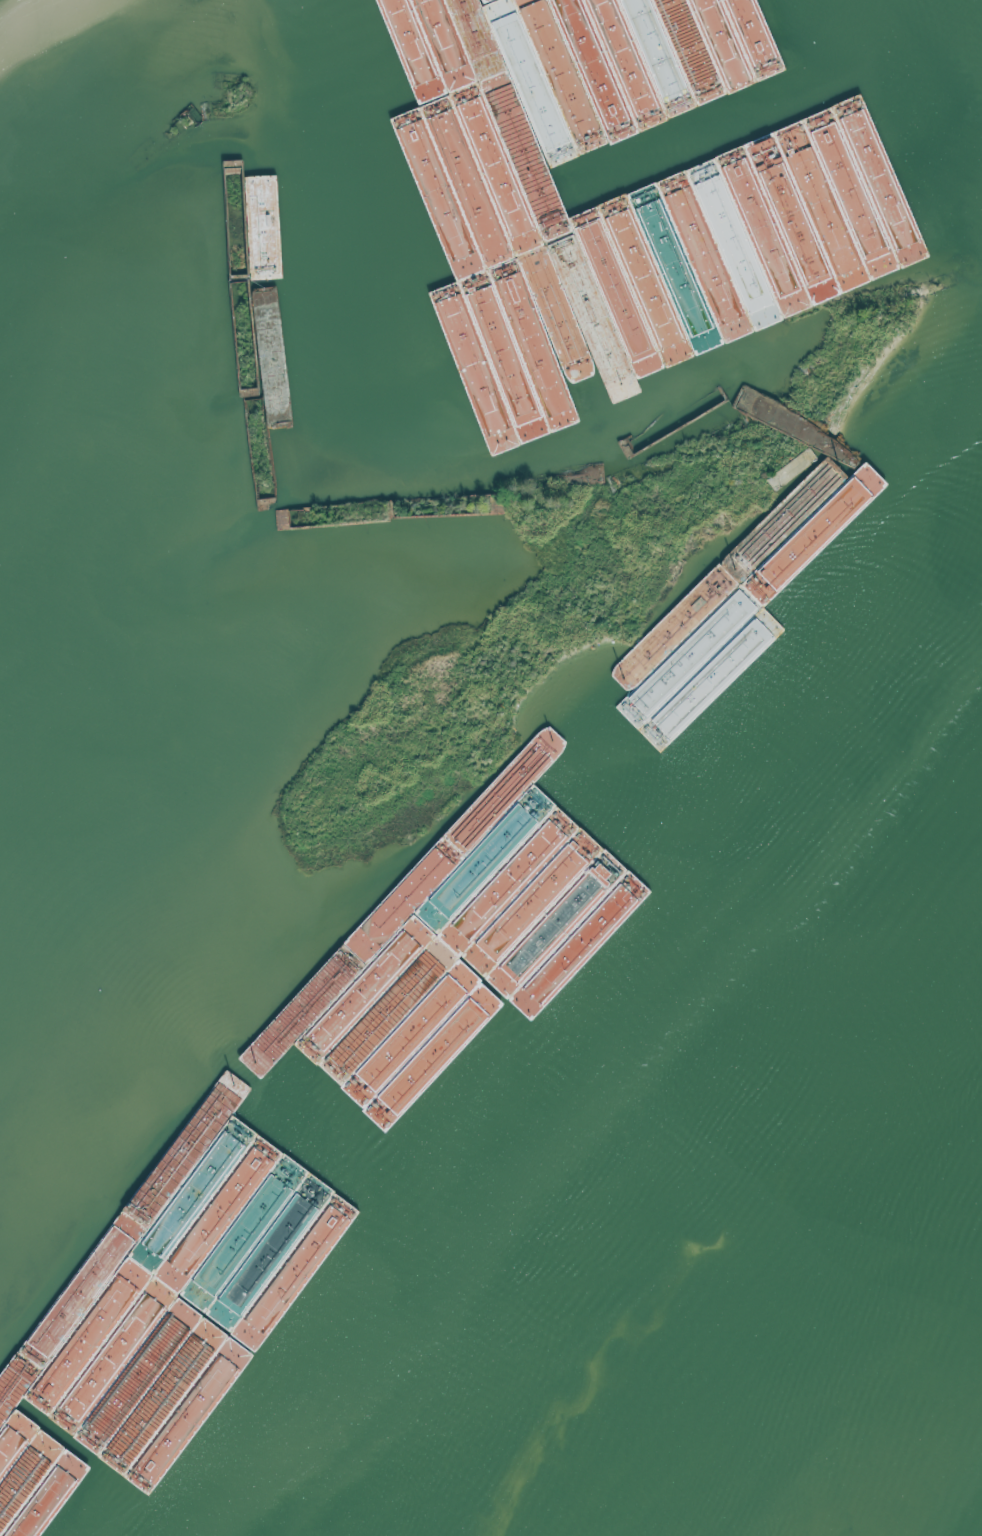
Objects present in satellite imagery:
river: (777, 1247)

